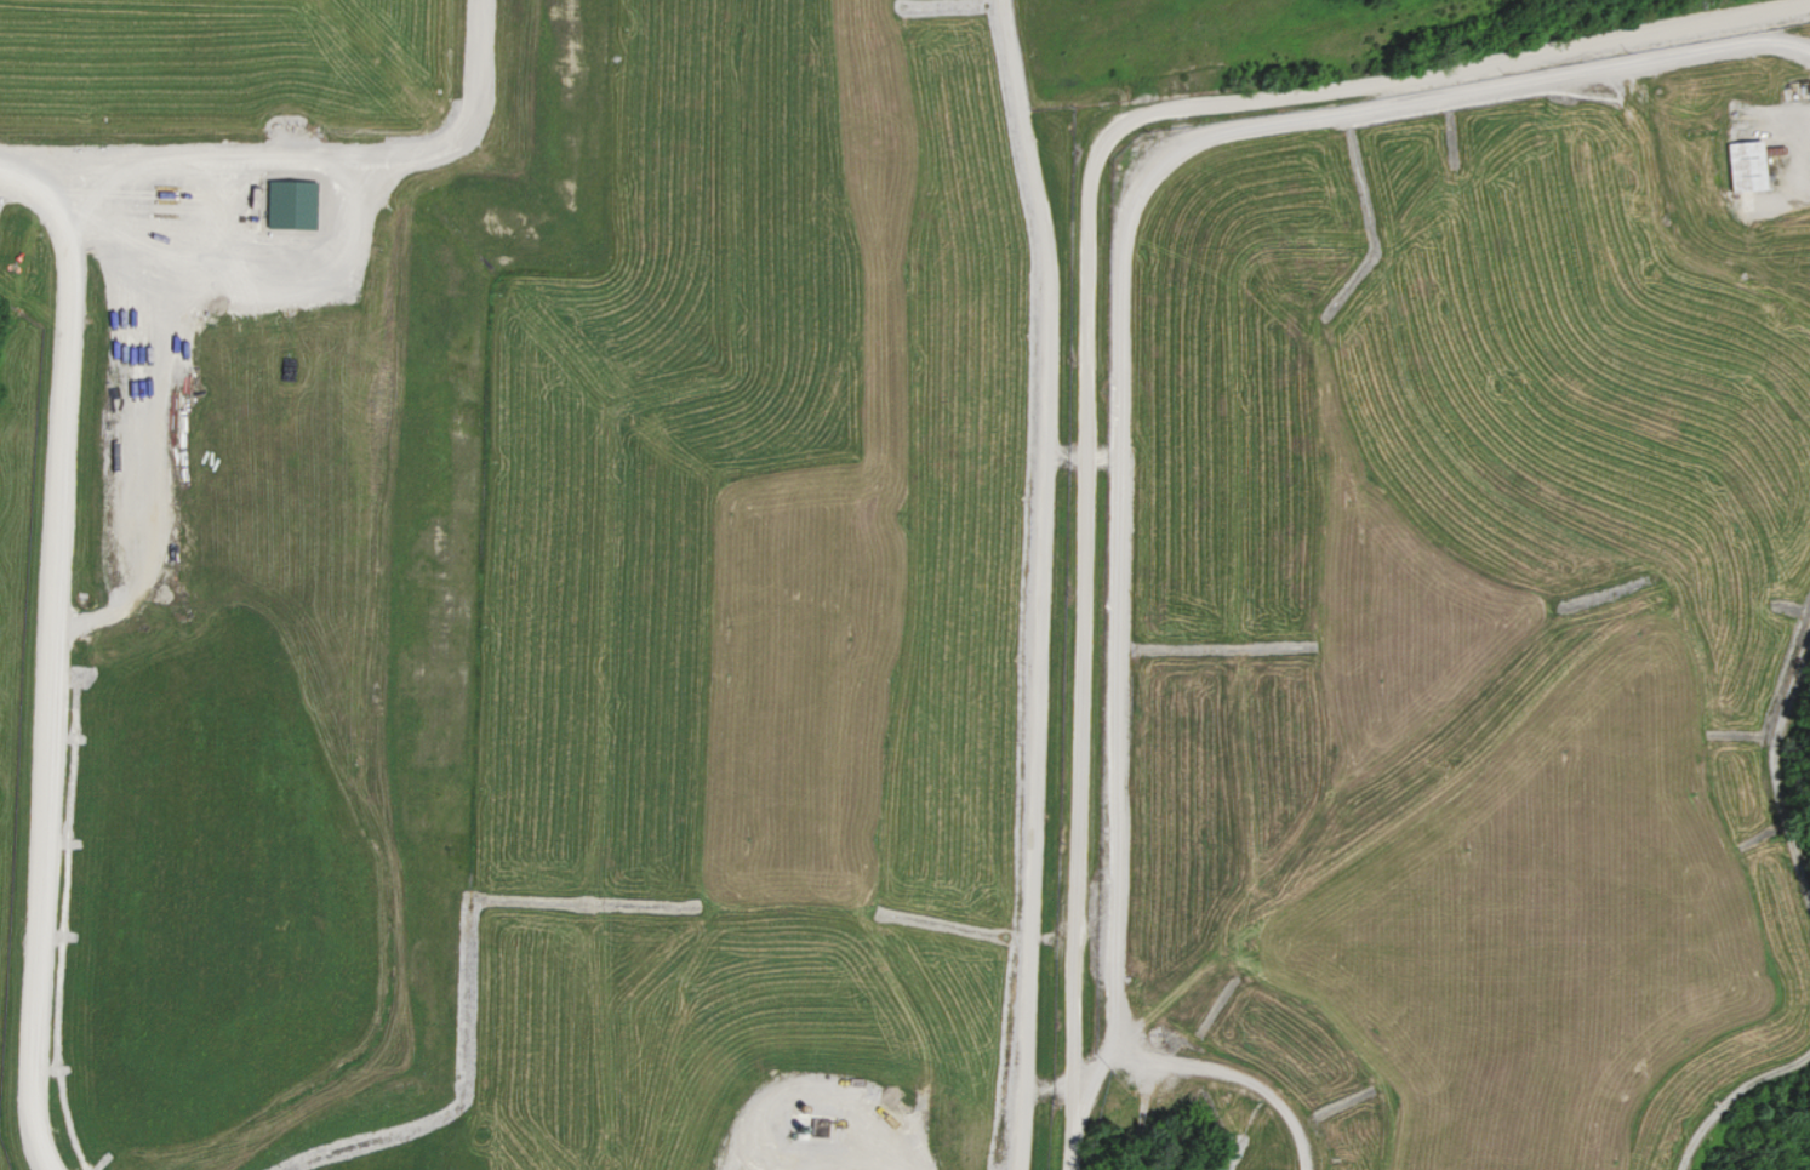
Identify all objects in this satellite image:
building: (1752, 166)
road: (1086, 292)
road: (62, 406)
road: (1448, 485)
road: (1040, 582)

